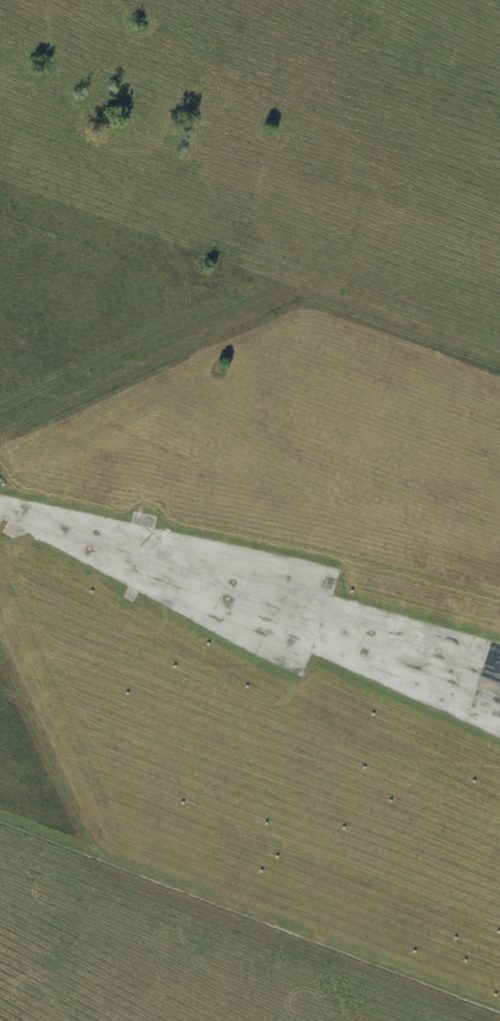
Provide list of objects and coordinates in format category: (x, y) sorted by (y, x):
road: (483, 684)

